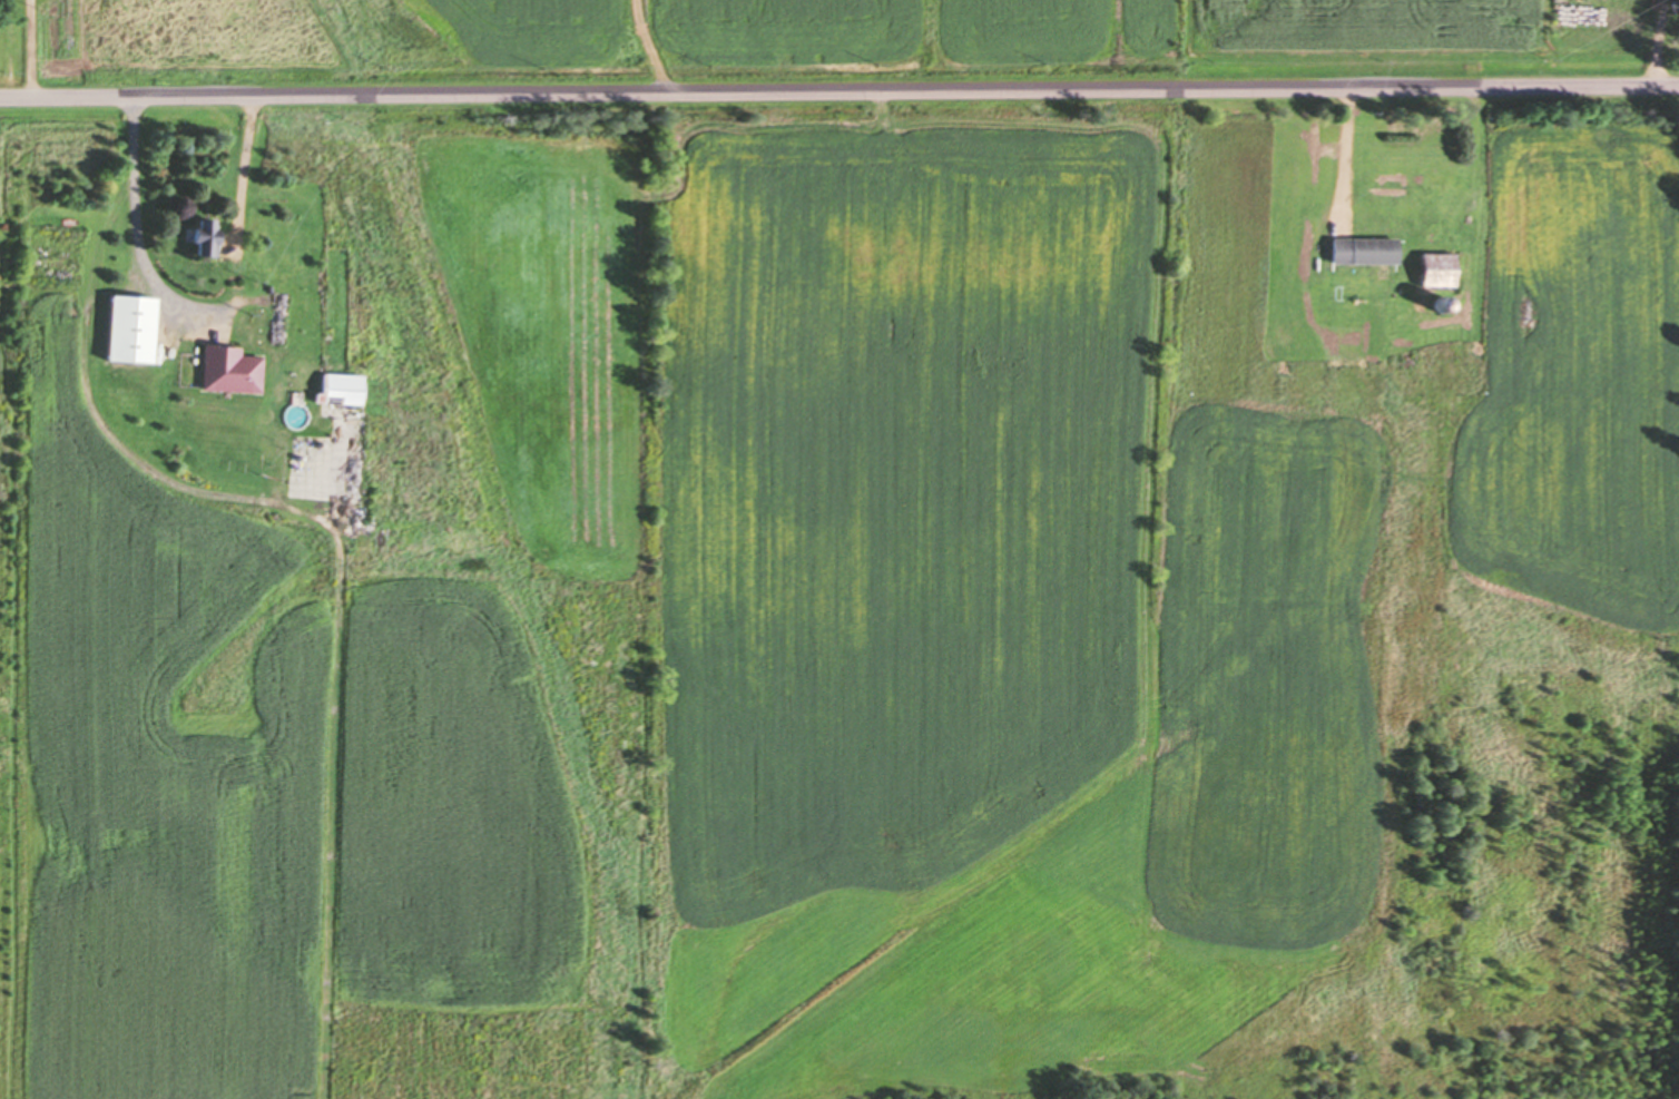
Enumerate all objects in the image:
road: (839, 91)
road: (239, 166)
road: (130, 229)
building: (196, 235)
building: (1362, 248)
building: (1434, 268)
building: (276, 317)
building: (124, 327)
building: (225, 367)
building: (314, 386)

